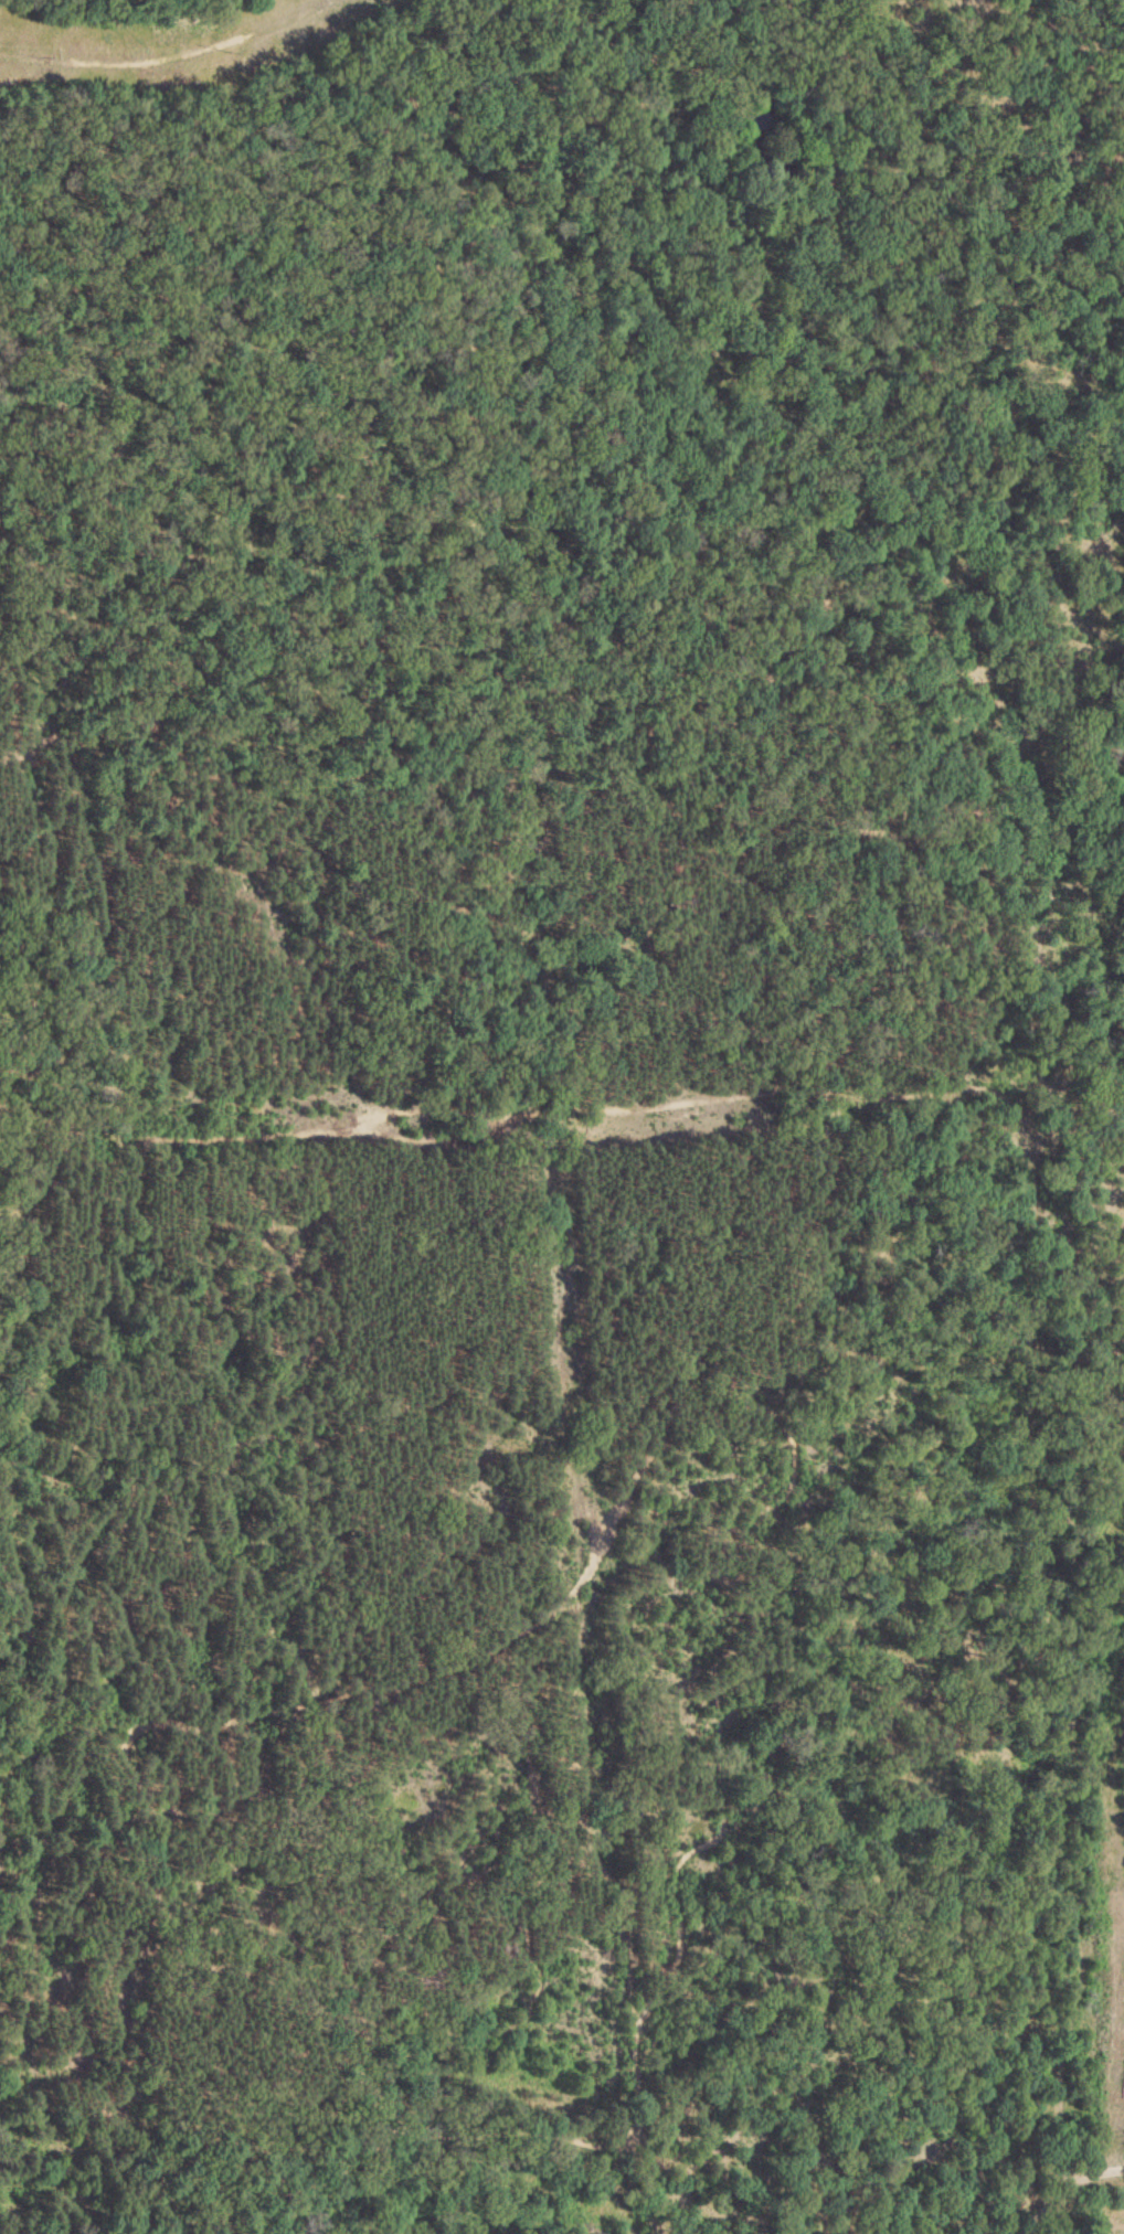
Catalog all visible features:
road: (1059, 2196)

